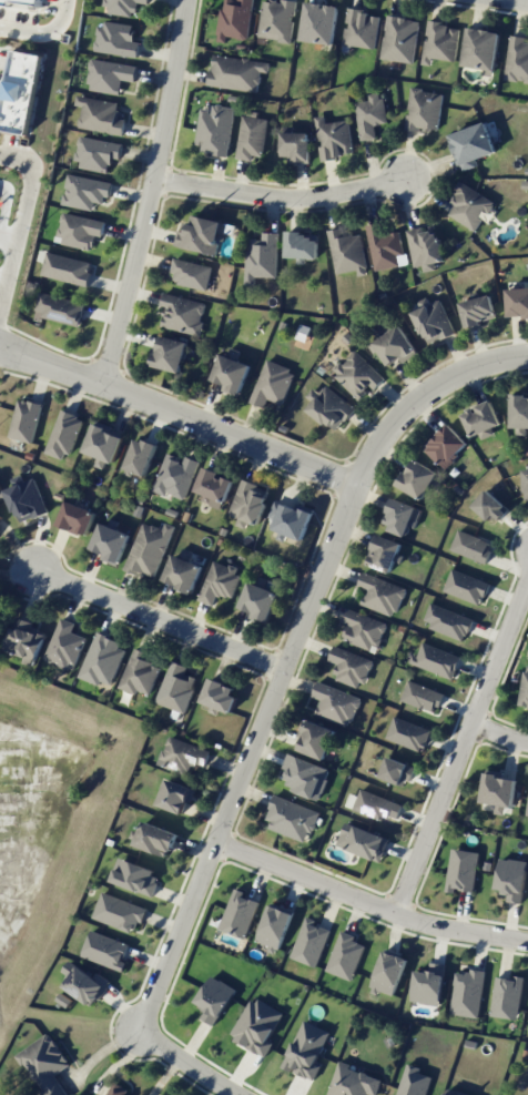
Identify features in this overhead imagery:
building: (23, 1)
road: (515, 1)
building: (126, 7)
building: (236, 19)
building: (278, 19)
building: (322, 22)
building: (362, 28)
road: (44, 34)
building: (400, 39)
building: (119, 41)
building: (443, 42)
building: (484, 49)
building: (518, 59)
building: (238, 73)
building: (112, 79)
building: (26, 91)
building: (425, 109)
building: (372, 114)
building: (108, 116)
building: (216, 128)
building: (253, 138)
building: (335, 138)
building: (298, 145)
building: (476, 145)
building: (98, 153)
building: (88, 193)
road: (153, 193)
road: (281, 202)
road: (6, 205)
building: (470, 206)
road: (21, 225)
building: (79, 234)
building: (204, 235)
road: (9, 241)
building: (305, 245)
building: (427, 245)
building: (386, 247)
building: (347, 252)
building: (263, 257)
building: (72, 273)
building: (192, 273)
road: (4, 282)
building: (519, 303)
building: (61, 308)
building: (480, 311)
building: (184, 314)
building: (436, 322)
building: (397, 346)
building: (173, 354)
building: (233, 374)
building: (359, 375)
building: (274, 386)
building: (334, 408)
building: (521, 410)
road: (179, 414)
building: (485, 418)
building: (27, 424)
building: (65, 439)
building: (449, 445)
building: (106, 448)
building: (142, 459)
building: (176, 477)
building: (420, 478)
building: (527, 483)
building: (217, 490)
building: (30, 504)
building: (491, 505)
building: (253, 506)
building: (1, 516)
building: (403, 517)
building: (291, 521)
building: (81, 523)
building: (3, 526)
building: (113, 546)
building: (474, 546)
building: (148, 551)
building: (387, 554)
building: (186, 575)
building: (225, 585)
building: (468, 587)
building: (383, 594)
building: (263, 605)
road: (160, 620)
building: (450, 620)
building: (364, 629)
building: (32, 649)
building: (69, 650)
road: (291, 653)
building: (439, 660)
building: (110, 662)
building: (352, 667)
building: (148, 676)
building: (182, 687)
building: (425, 697)
building: (224, 698)
building: (527, 698)
building: (337, 703)
building: (409, 733)
road: (500, 733)
building: (319, 740)
road: (463, 750)
building: (186, 756)
building: (399, 771)
building: (306, 777)
building: (501, 790)
building: (180, 797)
building: (379, 805)
building: (293, 818)
building: (161, 839)
building: (363, 841)
building: (461, 870)
building: (138, 876)
building: (511, 879)
road: (368, 903)
building: (121, 912)
building: (238, 914)
building: (274, 926)
building: (309, 942)
building: (108, 950)
building: (345, 955)
building: (388, 973)
building: (88, 983)
building: (428, 984)
building: (467, 993)
building: (506, 996)
building: (214, 998)
road: (60, 1016)
building: (256, 1025)
building: (306, 1051)
road: (187, 1063)
building: (48, 1064)
building: (355, 1081)
building: (413, 1082)
building: (119, 1089)
building: (453, 1093)

